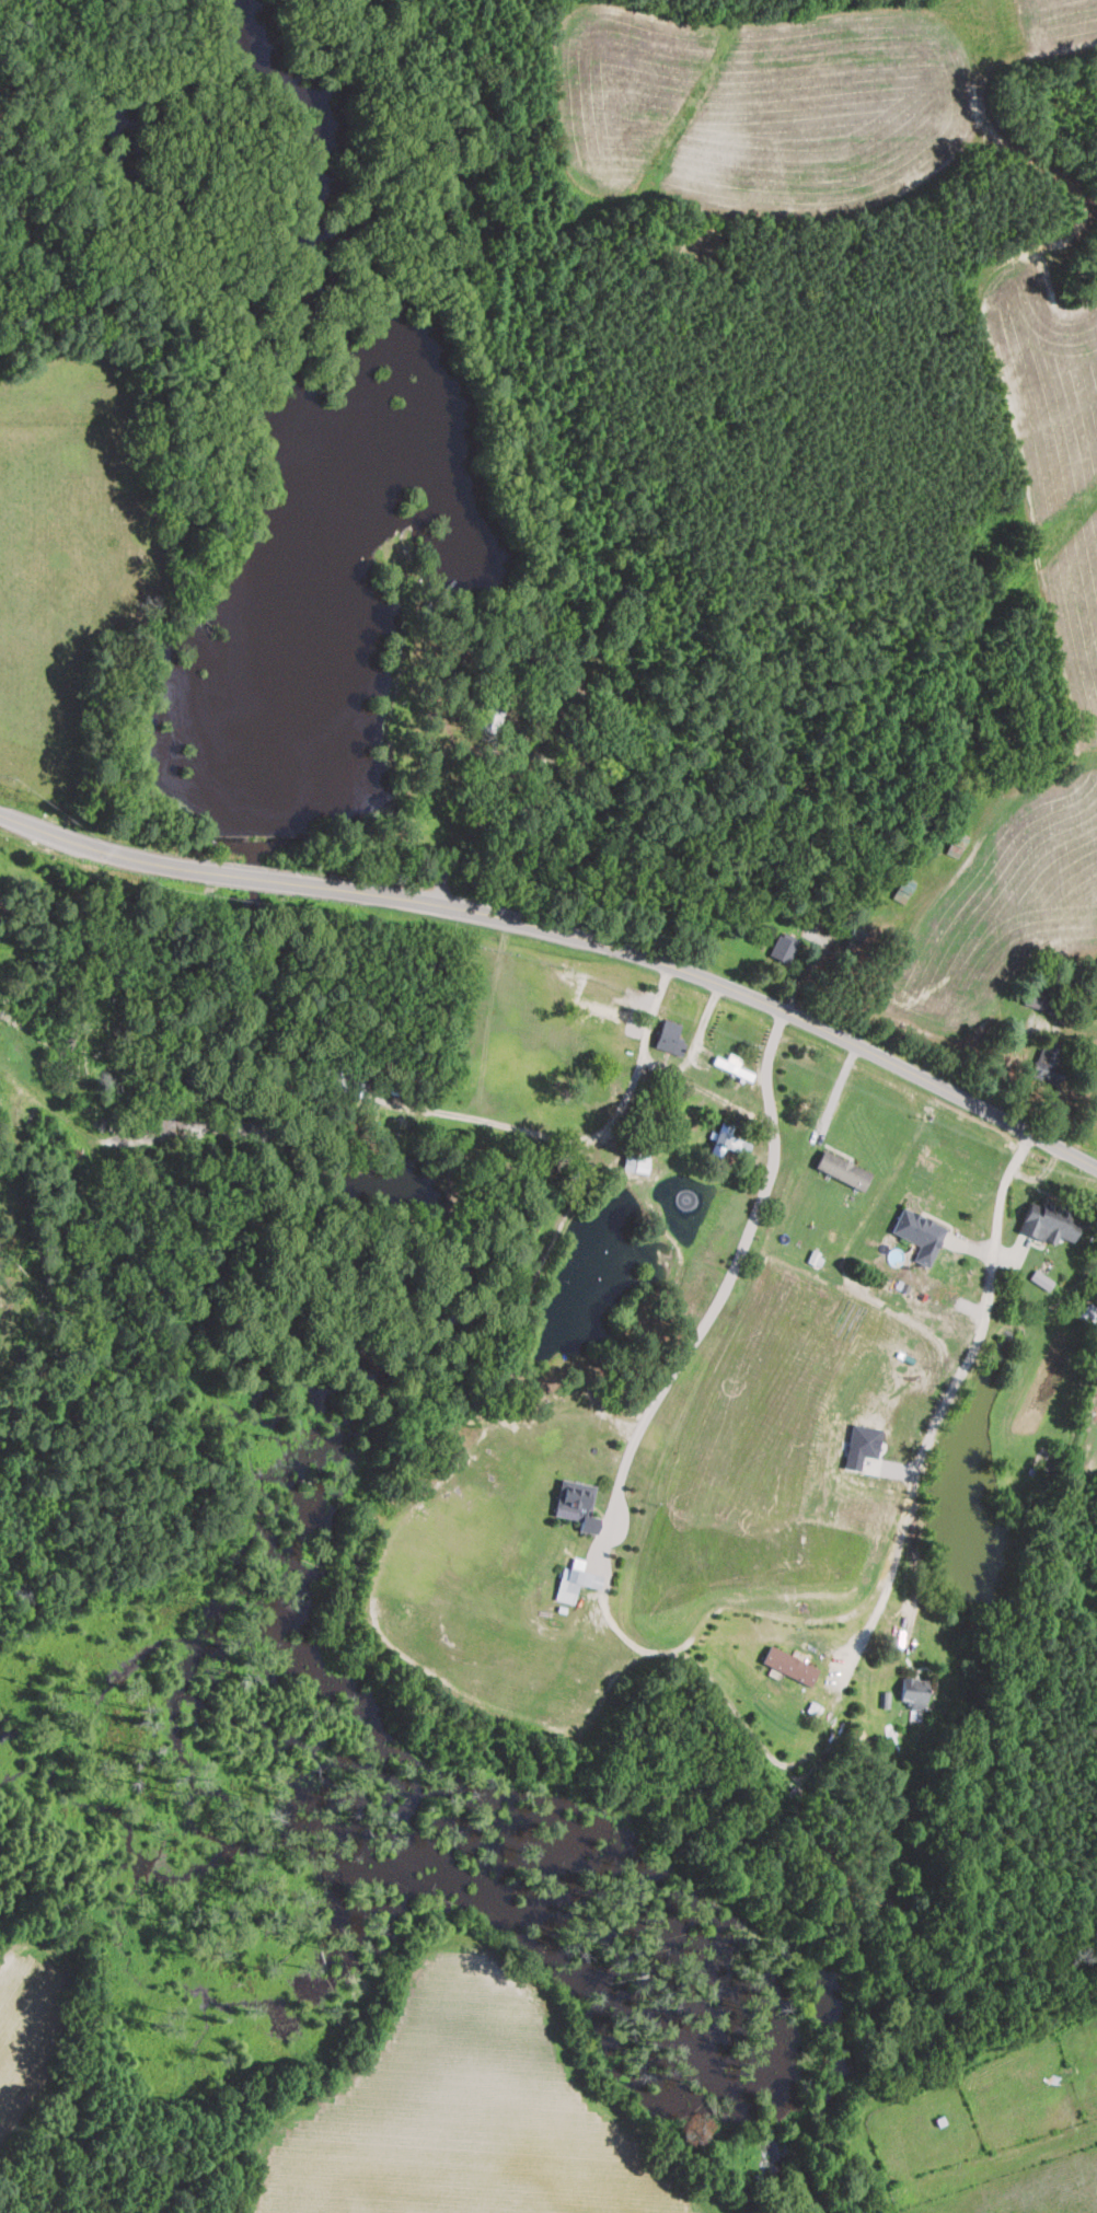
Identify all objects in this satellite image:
road: (70, 837)
building: (955, 843)
road: (251, 876)
building: (903, 889)
building: (783, 949)
road: (740, 994)
building: (1039, 999)
building: (669, 1036)
road: (695, 1048)
road: (838, 1092)
road: (604, 1138)
building: (729, 1138)
building: (636, 1161)
building: (843, 1169)
building: (1049, 1221)
building: (919, 1233)
road: (735, 1255)
building: (1041, 1278)
road: (955, 1383)
building: (862, 1445)
building: (577, 1504)
building: (575, 1579)
building: (789, 1665)
building: (914, 1691)

